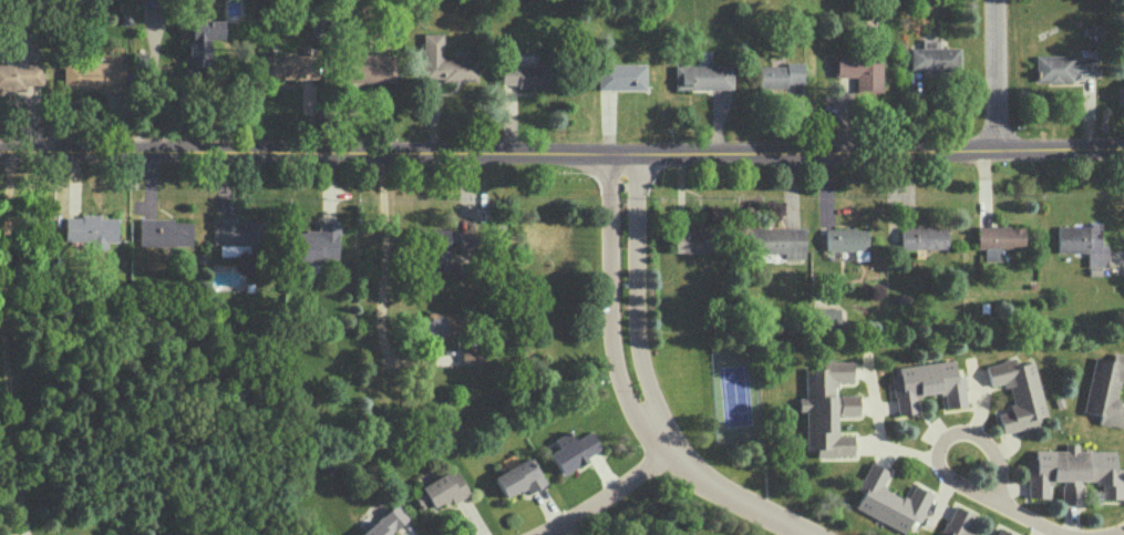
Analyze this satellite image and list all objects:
building: (199, 42)
building: (935, 59)
building: (444, 61)
building: (1066, 65)
building: (288, 66)
building: (369, 68)
building: (862, 69)
building: (522, 72)
road: (1000, 72)
building: (93, 74)
building: (780, 74)
building: (19, 75)
building: (620, 75)
building: (702, 76)
road: (561, 153)
building: (91, 230)
building: (165, 232)
building: (237, 232)
building: (922, 236)
building: (845, 238)
building: (998, 239)
building: (693, 240)
building: (776, 240)
building: (1082, 241)
building: (317, 244)
building: (441, 251)
road: (382, 275)
road: (636, 305)
road: (608, 312)
building: (825, 317)
road: (7, 325)
building: (441, 325)
building: (926, 384)
building: (1104, 390)
building: (1017, 393)
building: (826, 408)
road: (873, 431)
road: (947, 441)
building: (573, 450)
building: (1072, 472)
building: (519, 477)
building: (444, 488)
road: (735, 495)
road: (606, 498)
building: (888, 500)
building: (386, 522)
building: (957, 522)
road: (1028, 522)
building: (1001, 532)

